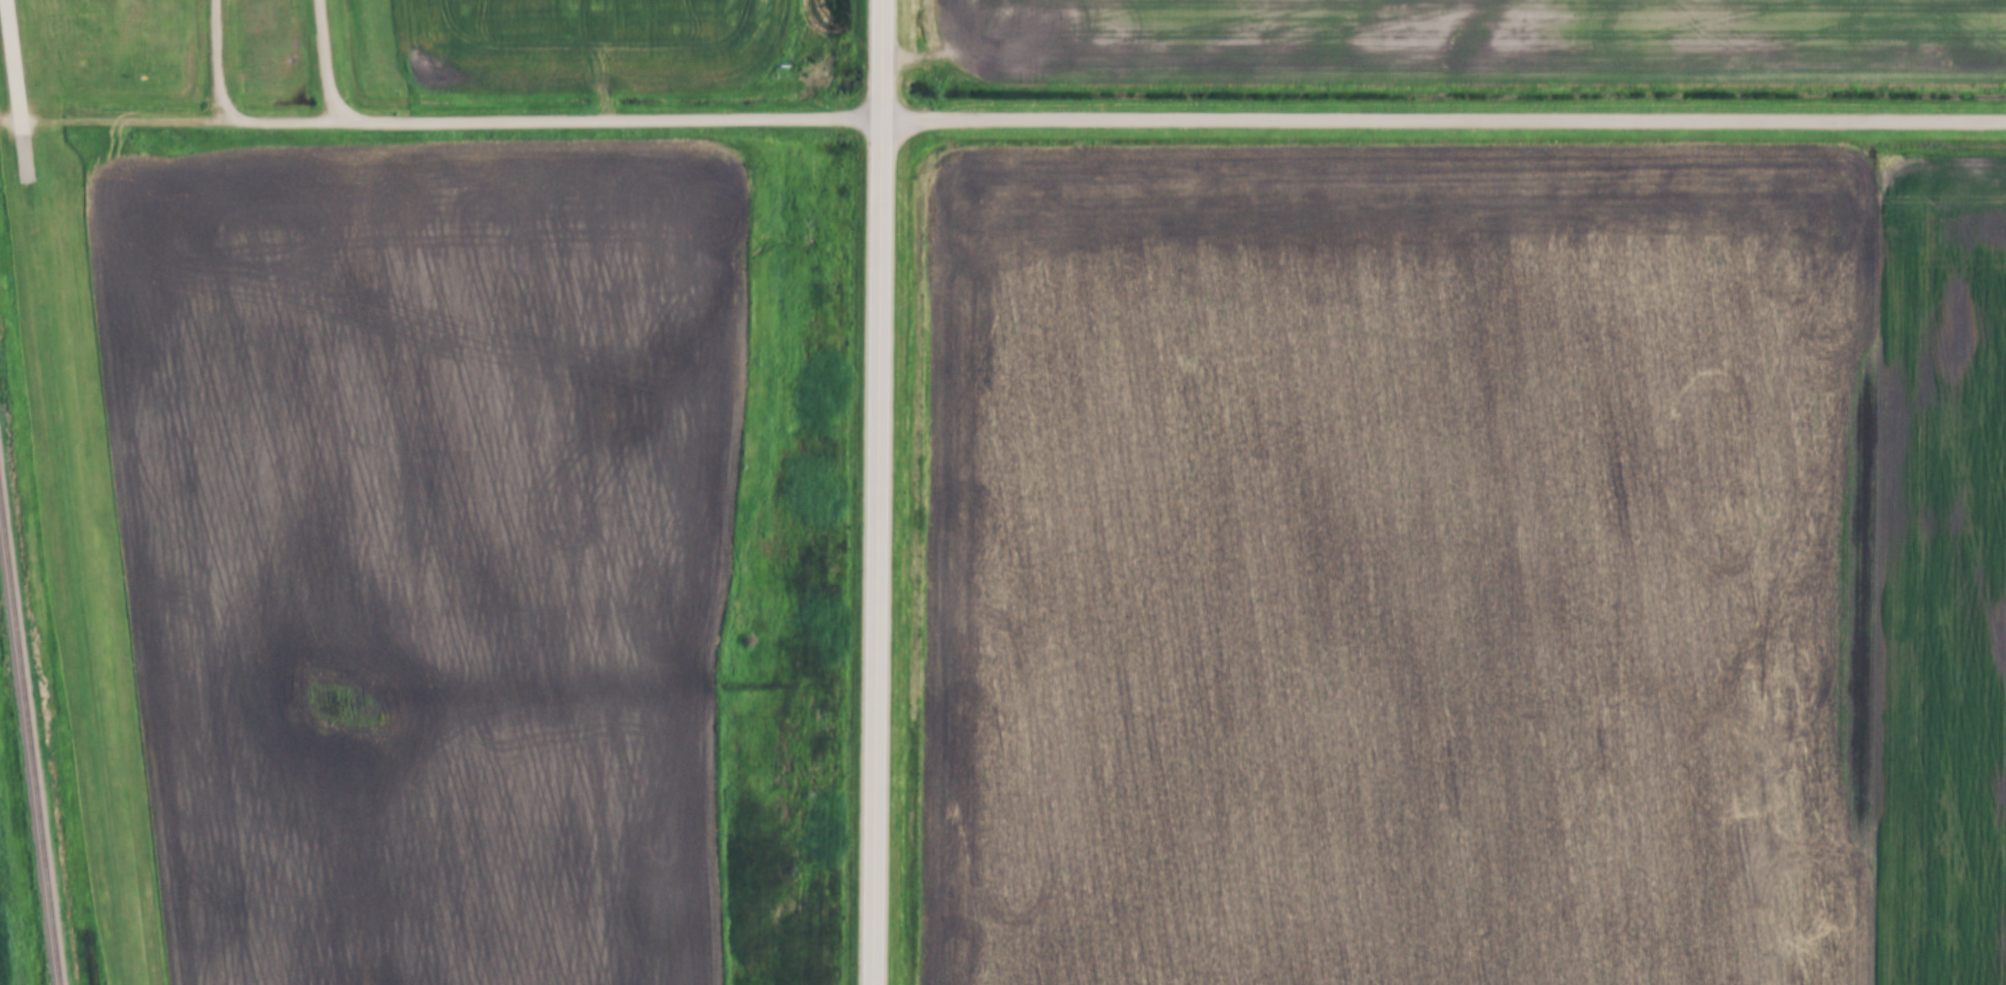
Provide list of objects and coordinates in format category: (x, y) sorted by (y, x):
airport runway: (16, 59)
road: (223, 59)
road: (331, 59)
road: (112, 119)
road: (554, 119)
road: (1444, 124)
road: (881, 492)
airport runway: (74, 552)
airport: (83, 608)
railway: (28, 750)

